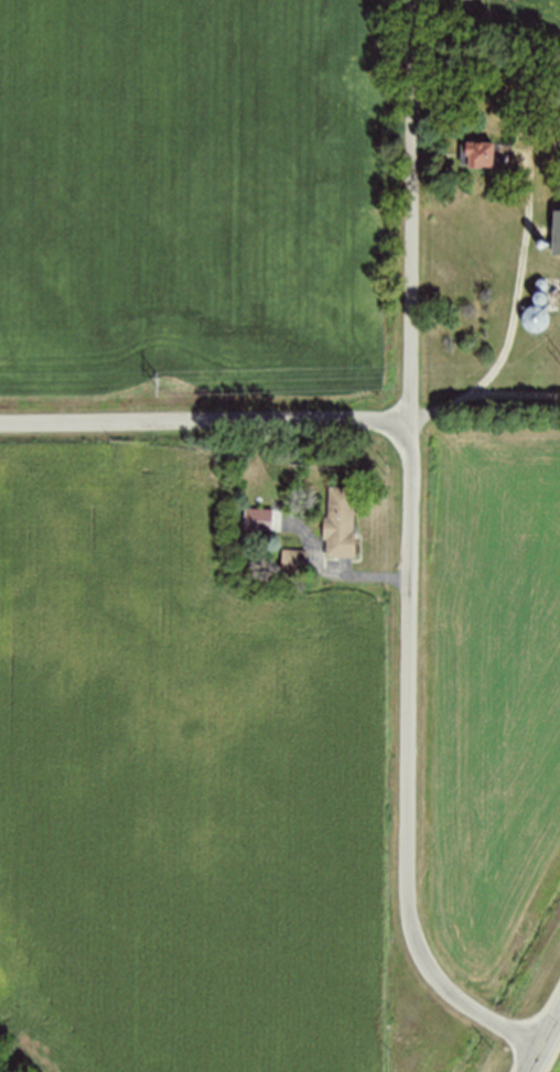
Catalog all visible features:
building: (487, 155)
road: (413, 210)
building: (557, 234)
road: (516, 311)
building: (537, 320)
road: (517, 392)
road: (205, 418)
building: (255, 481)
building: (259, 520)
building: (342, 526)
building: (293, 563)
road: (332, 572)
road: (411, 767)
road: (545, 1043)

